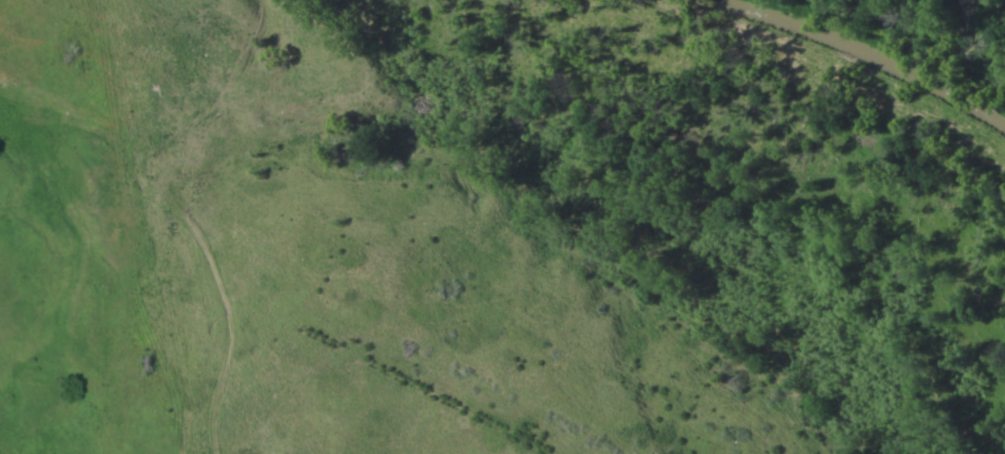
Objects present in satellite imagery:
park: (502, 227)

